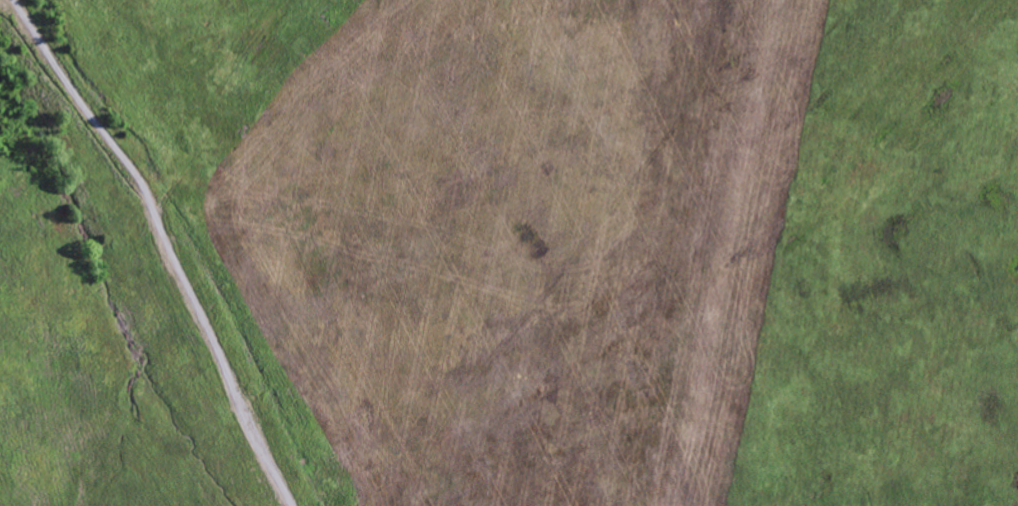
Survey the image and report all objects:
road: (151, 253)

